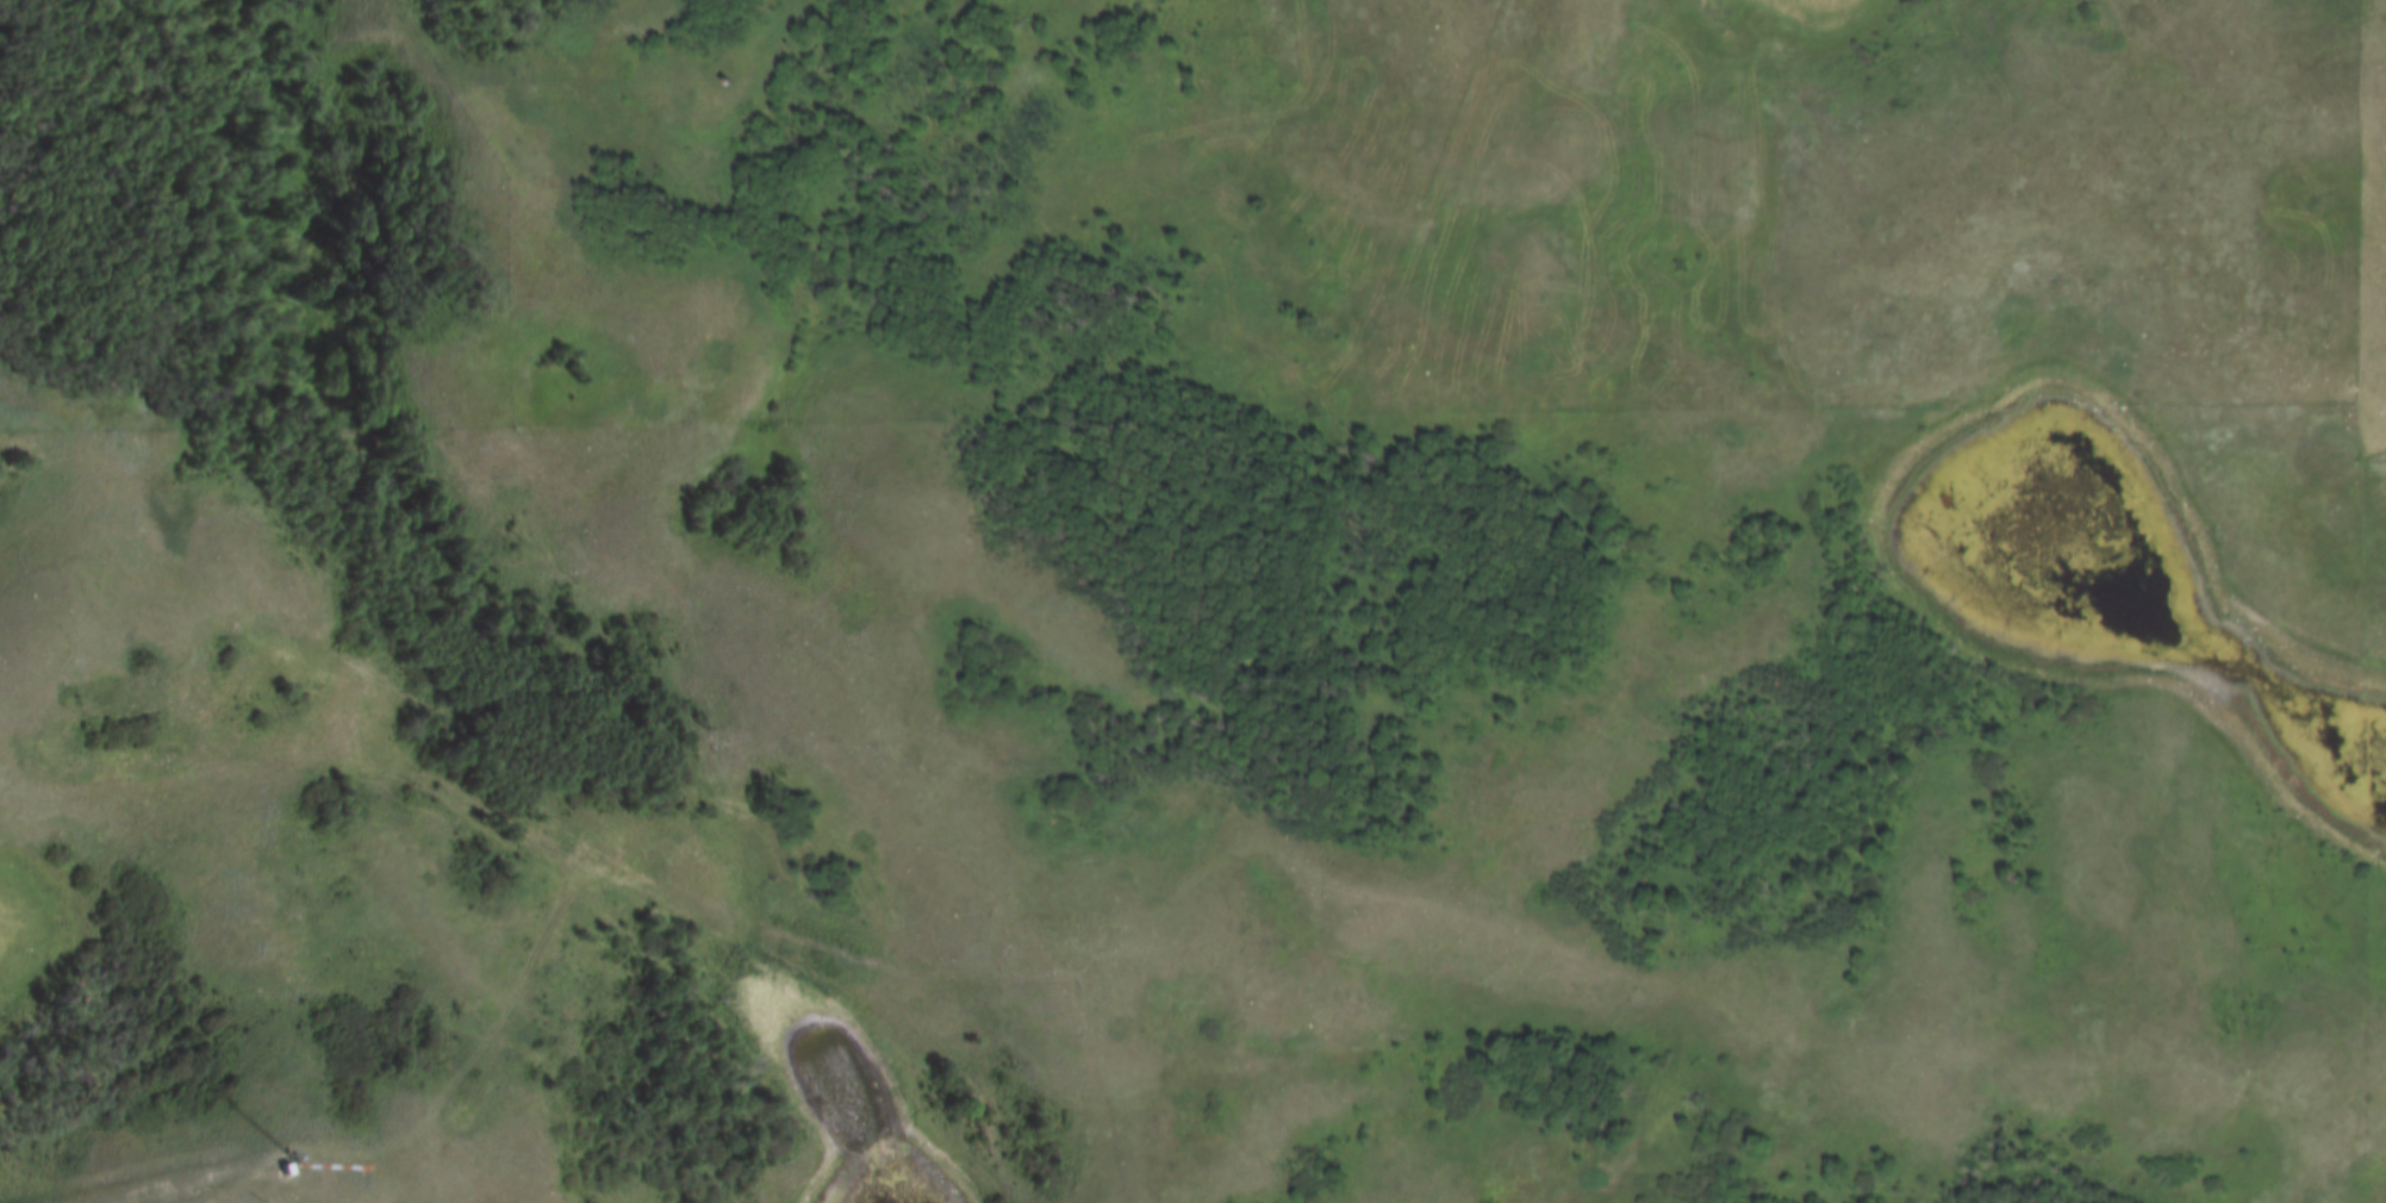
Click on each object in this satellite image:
road: (145, 1182)

